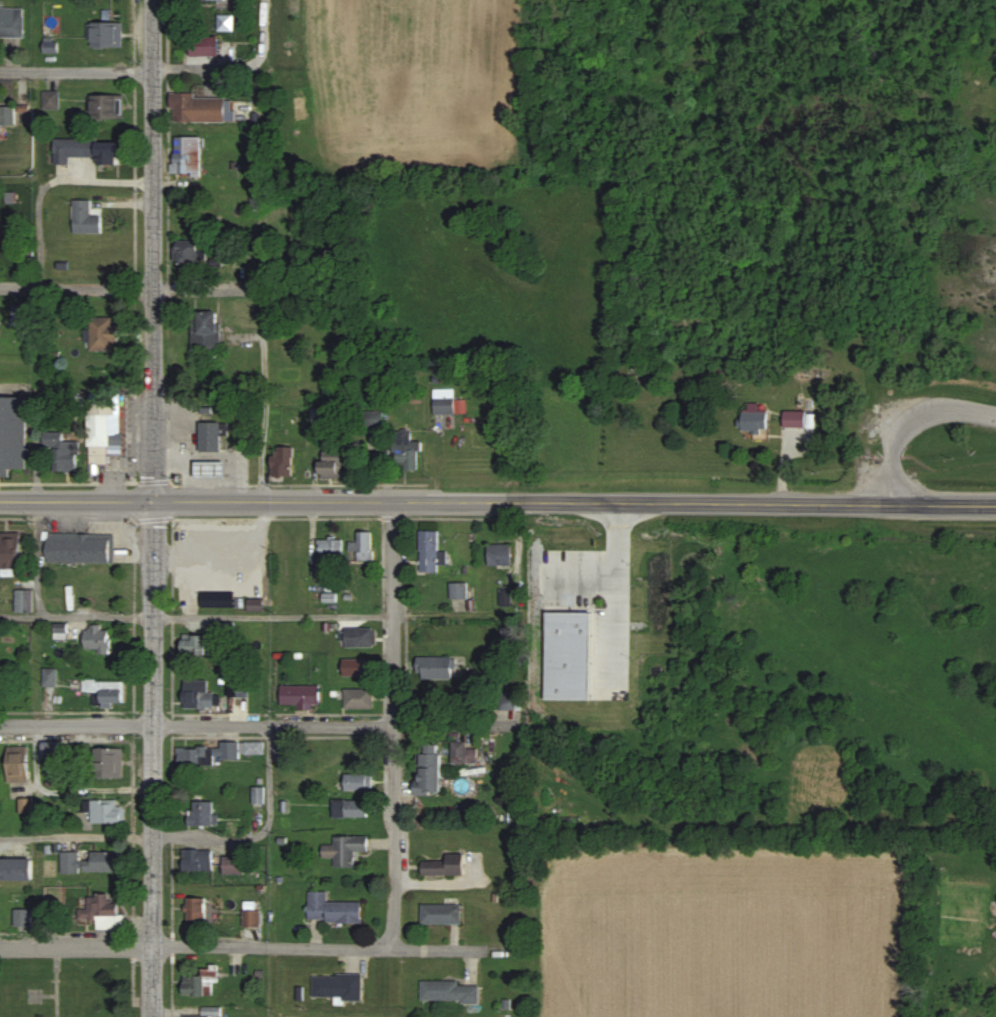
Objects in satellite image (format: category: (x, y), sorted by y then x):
building: (214, 0)
building: (12, 22)
building: (228, 23)
building: (109, 35)
building: (206, 46)
road: (234, 65)
road: (74, 72)
building: (53, 101)
building: (109, 106)
building: (203, 109)
building: (7, 116)
building: (73, 150)
building: (107, 153)
building: (188, 155)
road: (45, 184)
building: (86, 218)
road: (150, 251)
building: (191, 252)
road: (75, 288)
building: (19, 315)
building: (208, 333)
building: (102, 334)
road: (261, 344)
building: (450, 402)
building: (756, 418)
road: (907, 418)
building: (795, 420)
building: (105, 427)
building: (13, 435)
building: (409, 451)
building: (63, 453)
building: (284, 462)
building: (334, 463)
building: (211, 470)
road: (76, 501)
road: (405, 501)
road: (827, 503)
road: (618, 523)
building: (364, 546)
building: (331, 548)
building: (80, 549)
building: (12, 552)
building: (432, 553)
building: (501, 555)
building: (320, 568)
road: (580, 572)
building: (460, 591)
building: (25, 602)
building: (222, 604)
building: (256, 605)
parking lot: (593, 610)
road: (618, 613)
road: (195, 618)
building: (61, 634)
building: (361, 638)
building: (99, 640)
building: (199, 645)
building: (566, 646)
building: (356, 667)
building: (437, 668)
building: (50, 678)
building: (107, 692)
building: (201, 696)
building: (302, 697)
building: (359, 699)
road: (392, 725)
road: (262, 728)
building: (52, 751)
building: (220, 753)
building: (464, 754)
road: (152, 759)
building: (111, 764)
building: (19, 769)
building: (358, 782)
building: (259, 796)
building: (27, 806)
building: (350, 809)
building: (108, 813)
building: (204, 815)
road: (185, 838)
building: (347, 851)
building: (197, 862)
building: (71, 863)
building: (104, 863)
building: (235, 866)
building: (445, 866)
building: (17, 871)
building: (197, 909)
building: (333, 910)
building: (103, 914)
building: (442, 915)
building: (252, 916)
building: (23, 918)
road: (261, 948)
building: (201, 982)
building: (339, 987)
building: (450, 992)
building: (211, 1012)

